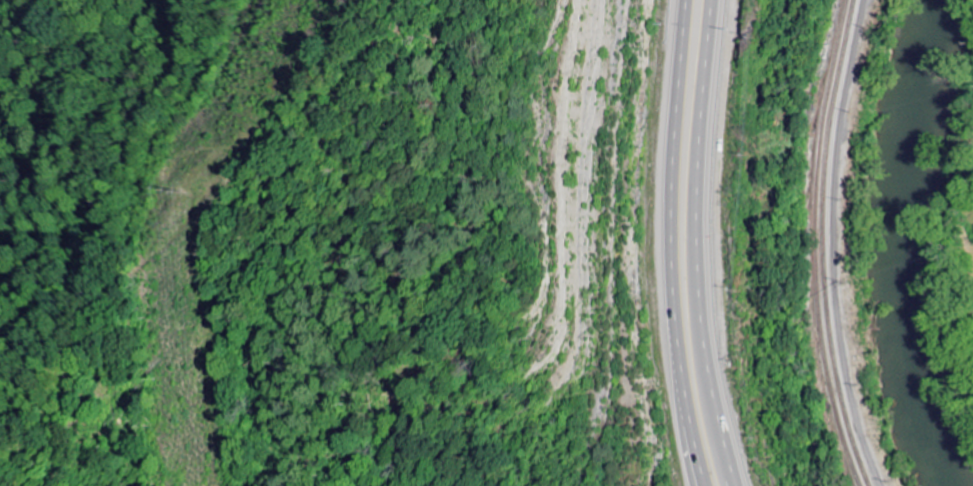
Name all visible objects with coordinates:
power tower: (182, 193)
road: (832, 243)
road: (668, 244)
road: (702, 244)
railway: (803, 244)
railway: (815, 244)
river: (910, 246)
road: (701, 484)

